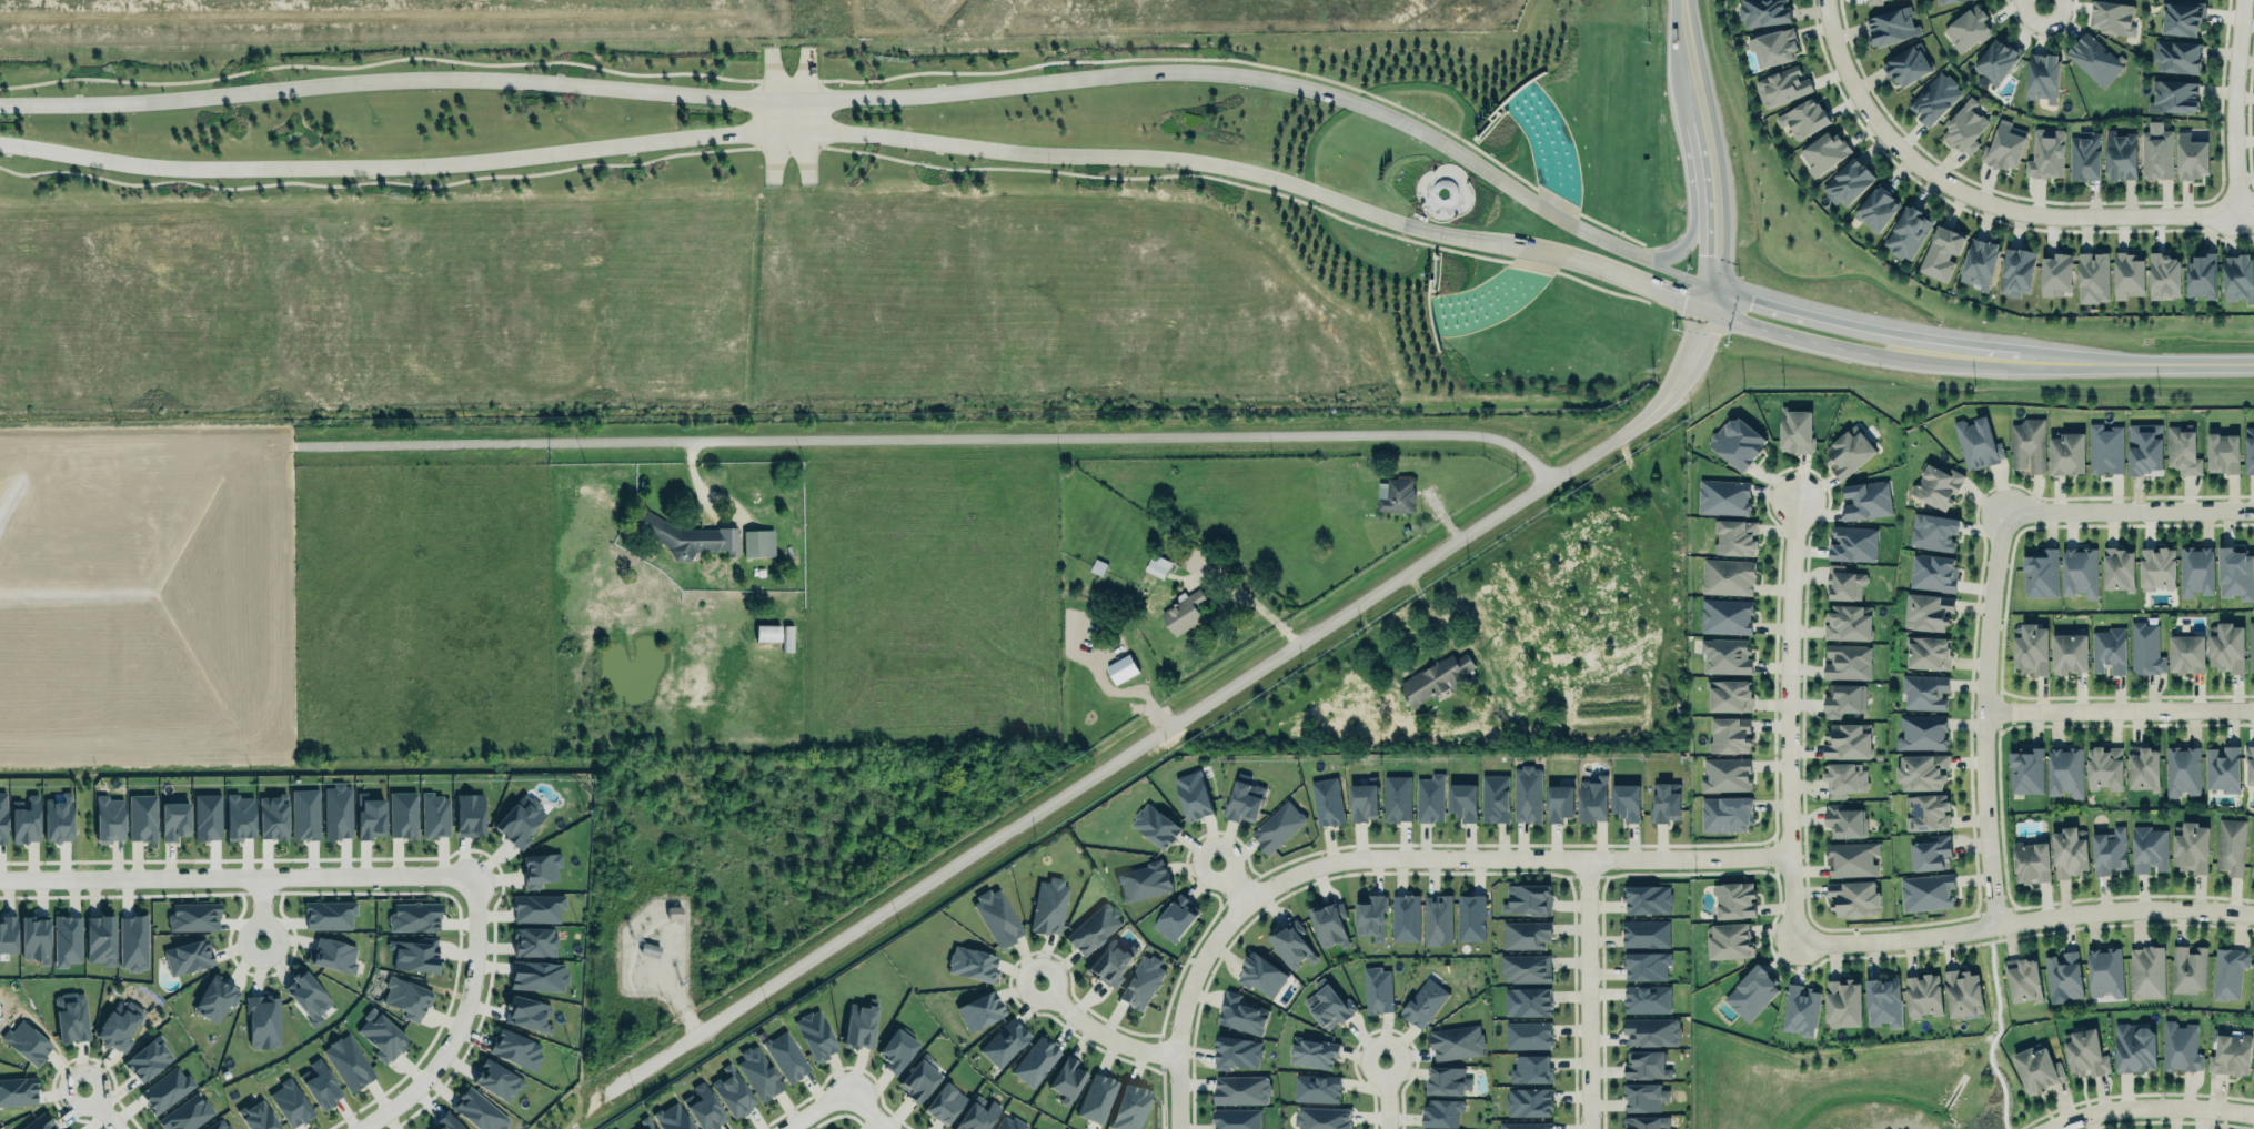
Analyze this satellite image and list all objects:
building: (1874, 1)
building: (1946, 1)
road: (2039, 7)
building: (1764, 12)
building: (2114, 17)
building: (2183, 18)
building: (1892, 27)
building: (1968, 28)
building: (1774, 47)
building: (2176, 56)
road: (1688, 57)
building: (2095, 59)
building: (1998, 60)
road: (378, 61)
road: (1251, 62)
building: (1906, 64)
building: (2042, 77)
road: (787, 79)
building: (1781, 85)
road: (881, 93)
road: (806, 95)
building: (2173, 95)
building: (1934, 99)
road: (2235, 107)
building: (1803, 119)
road: (808, 127)
building: (1965, 127)
road: (772, 131)
fountain: (1540, 142)
road: (787, 144)
building: (2004, 145)
building: (2046, 153)
building: (1824, 154)
building: (2157, 154)
building: (2084, 155)
building: (2121, 155)
building: (2191, 157)
road: (1705, 158)
road: (375, 180)
building: (1849, 182)
road: (1241, 185)
fountain: (1442, 192)
road: (1972, 200)
building: (1878, 206)
building: (1908, 233)
road: (1683, 242)
road: (1713, 243)
building: (1941, 252)
traffic signals: (1713, 254)
building: (1980, 264)
building: (2016, 271)
building: (2127, 273)
building: (2056, 274)
building: (2093, 275)
building: (2164, 275)
building: (2201, 275)
building: (2237, 278)
road: (1654, 290)
road: (1710, 298)
fountain: (1491, 300)
traffic signals: (1682, 300)
traffic signals: (1751, 300)
road: (1813, 317)
road: (1764, 329)
traffic signals: (1701, 331)
road: (1869, 353)
road: (1951, 354)
road: (2003, 360)
road: (2136, 364)
building: (1794, 429)
road: (1056, 433)
building: (1737, 440)
building: (1976, 443)
building: (2027, 445)
building: (2105, 448)
building: (1848, 450)
building: (2144, 450)
building: (2183, 450)
building: (2248, 450)
building: (2223, 452)
building: (2066, 454)
building: (1936, 483)
building: (1395, 495)
building: (1723, 495)
building: (1864, 498)
road: (2124, 516)
building: (1933, 530)
building: (1733, 535)
building: (686, 536)
building: (756, 542)
building: (1853, 542)
building: (1157, 565)
building: (2156, 566)
building: (2119, 568)
building: (2079, 569)
building: (1932, 571)
building: (2196, 571)
building: (2233, 571)
building: (2040, 572)
building: (1727, 575)
building: (1843, 581)
building: (1925, 608)
building: (1184, 612)
building: (1725, 616)
building: (1848, 621)
building: (766, 633)
building: (2251, 645)
building: (2031, 646)
building: (2227, 647)
building: (2145, 648)
building: (1929, 651)
building: (2109, 651)
building: (2070, 652)
building: (2186, 653)
building: (1725, 654)
building: (1848, 661)
building: (1121, 668)
building: (1435, 678)
building: (1924, 689)
building: (1730, 695)
building: (1844, 698)
road: (2119, 707)
road: (1178, 720)
road: (1983, 720)
building: (1922, 730)
road: (1787, 734)
building: (1730, 735)
building: (1848, 739)
building: (2248, 764)
building: (2143, 766)
building: (2104, 767)
building: (2223, 767)
building: (1921, 769)
building: (2025, 770)
building: (2065, 770)
building: (2182, 770)
building: (1725, 773)
building: (1843, 777)
building: (1528, 793)
building: (1193, 795)
building: (1592, 797)
building: (1397, 798)
building: (1429, 798)
building: (1495, 798)
building: (1558, 799)
building: (1627, 799)
building: (1242, 800)
building: (1327, 800)
building: (1362, 800)
building: (1462, 800)
building: (1664, 800)
building: (336, 810)
building: (1724, 812)
building: (1926, 812)
building: (467, 813)
building: (238, 814)
building: (303, 814)
building: (368, 815)
building: (403, 815)
building: (435, 815)
building: (107, 816)
building: (204, 816)
building: (140, 817)
building: (1, 818)
building: (272, 818)
building: (24, 819)
building: (57, 819)
building: (172, 819)
building: (520, 820)
building: (1844, 821)
building: (1156, 824)
building: (1277, 825)
building: (2191, 845)
building: (2231, 845)
building: (2149, 848)
building: (2069, 850)
building: (2109, 850)
building: (1932, 853)
building: (1853, 857)
building: (2032, 859)
building: (2252, 859)
road: (1389, 861)
building: (540, 865)
road: (238, 876)
building: (1144, 879)
road: (1228, 880)
building: (1926, 891)
building: (1853, 896)
building: (1526, 897)
building: (1647, 899)
building: (1734, 899)
building: (535, 906)
building: (1048, 906)
road: (260, 908)
building: (326, 913)
building: (673, 914)
building: (996, 916)
building: (1176, 916)
building: (193, 917)
building: (414, 917)
building: (1370, 917)
building: (1405, 917)
building: (1470, 917)
building: (1437, 918)
road: (2022, 919)
building: (1329, 921)
building: (1094, 927)
building: (8, 933)
building: (1646, 933)
building: (1526, 935)
building: (99, 937)
building: (34, 938)
building: (532, 938)
building: (66, 939)
building: (1729, 939)
building: (131, 941)
building: (1291, 945)
building: (332, 955)
building: (414, 955)
building: (185, 956)
building: (1110, 960)
building: (972, 964)
building: (1646, 964)
building: (1526, 966)
building: (2188, 968)
building: (2104, 971)
building: (2145, 971)
building: (1260, 972)
building: (2228, 972)
building: (535, 974)
building: (2063, 976)
building: (2024, 978)
building: (1141, 981)
building: (1377, 989)
building: (2253, 990)
building: (1751, 991)
building: (1962, 991)
building: (306, 994)
building: (1923, 994)
road: (1589, 996)
building: (405, 997)
building: (1647, 997)
building: (2253, 997)
building: (215, 998)
building: (1526, 999)
building: (1883, 999)
building: (1425, 1001)
building: (1842, 1001)
building: (1328, 1004)
building: (1800, 1008)
building: (979, 1010)
building: (1239, 1012)
building: (527, 1014)
building: (69, 1015)
building: (261, 1019)
road: (459, 1021)
building: (118, 1022)
building: (859, 1026)
road: (1097, 1028)
building: (1652, 1030)
building: (380, 1034)
building: (814, 1035)
building: (1528, 1035)
building: (26, 1040)
building: (1456, 1040)
building: (1003, 1041)
building: (512, 1046)
building: (2133, 1046)
building: (2180, 1046)
building: (896, 1050)
building: (1312, 1051)
building: (2084, 1051)
building: (1236, 1052)
building: (2230, 1054)
building: (783, 1056)
building: (148, 1059)
building: (1034, 1059)
building: (348, 1062)
building: (1646, 1064)
building: (2036, 1067)
building: (1531, 1068)
building: (755, 1071)
building: (1066, 1077)
building: (495, 1078)
building: (1446, 1078)
building: (917, 1080)
building: (320, 1083)
building: (1314, 1086)
building: (18, 1089)
building: (165, 1089)
building: (1240, 1089)
building: (732, 1093)
building: (1643, 1093)
road: (1382, 1095)
building: (1096, 1097)
building: (1528, 1101)
building: (290, 1102)
building: (944, 1102)
road: (99, 1107)
building: (704, 1107)
building: (1128, 1107)
building: (477, 1110)
road: (817, 1110)
road: (867, 1110)
building: (1441, 1111)
road: (2147, 1111)
building: (184, 1113)
building: (976, 1113)
building: (258, 1116)
building: (672, 1117)
building: (1237, 1118)
building: (1321, 1118)
building: (36, 1121)
building: (445, 1121)
building: (1646, 1121)
building: (1009, 1122)
building: (219, 1125)
building: (1523, 1125)
building: (647, 1126)
building: (1443, 1128)

